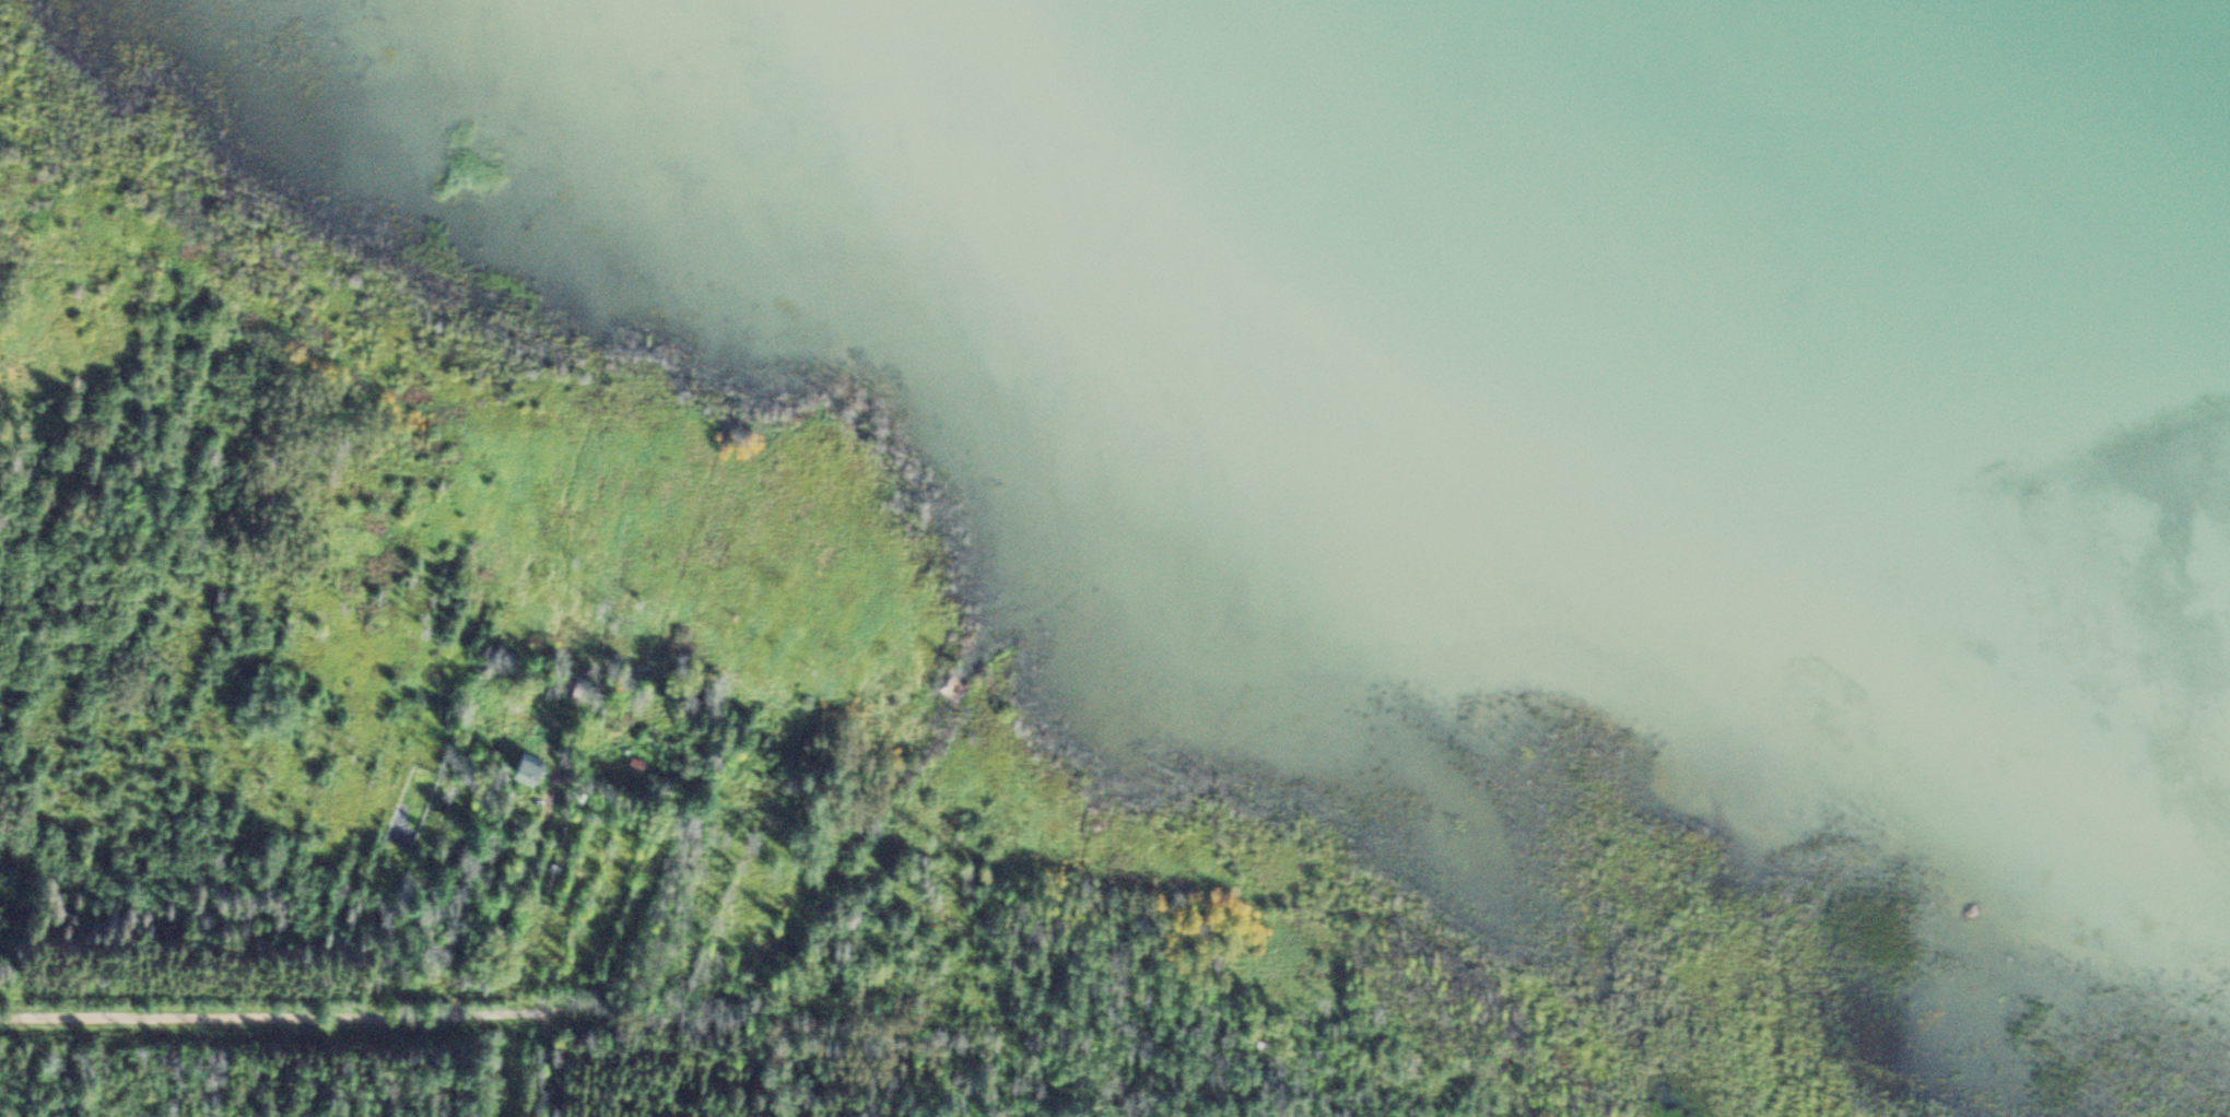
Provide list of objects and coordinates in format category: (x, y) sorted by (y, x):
building: (533, 764)
road: (308, 1001)

